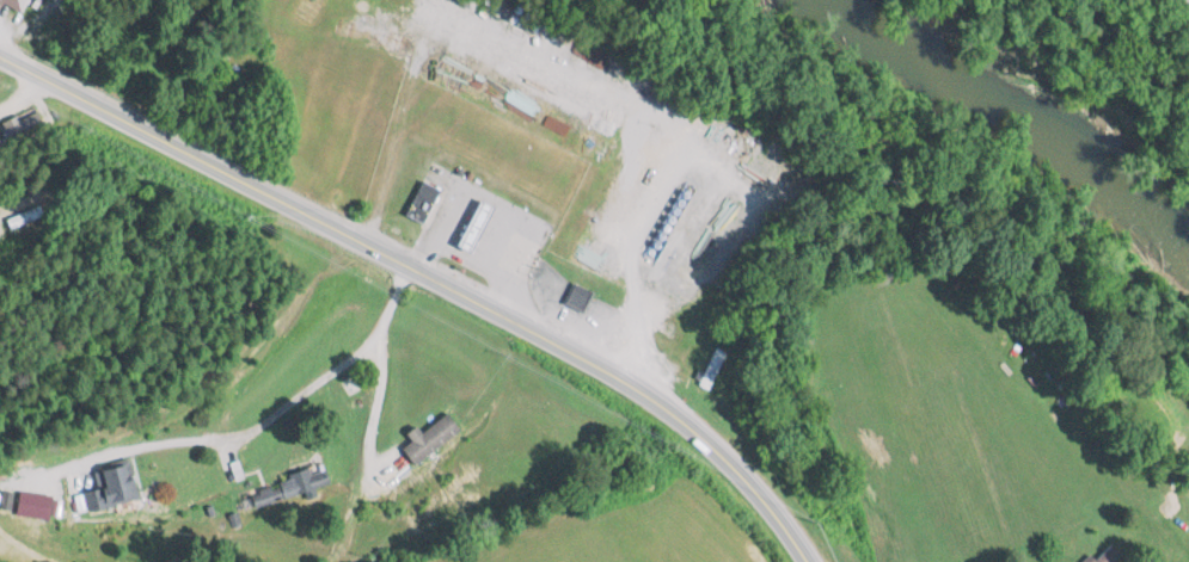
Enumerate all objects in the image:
building: (13, 5)
road: (22, 93)
river: (993, 123)
building: (20, 138)
building: (421, 200)
building: (19, 221)
building: (472, 223)
road: (428, 276)
building: (710, 368)
road: (369, 416)
road: (263, 419)
building: (428, 439)
building: (288, 487)
building: (108, 489)
building: (1102, 557)

